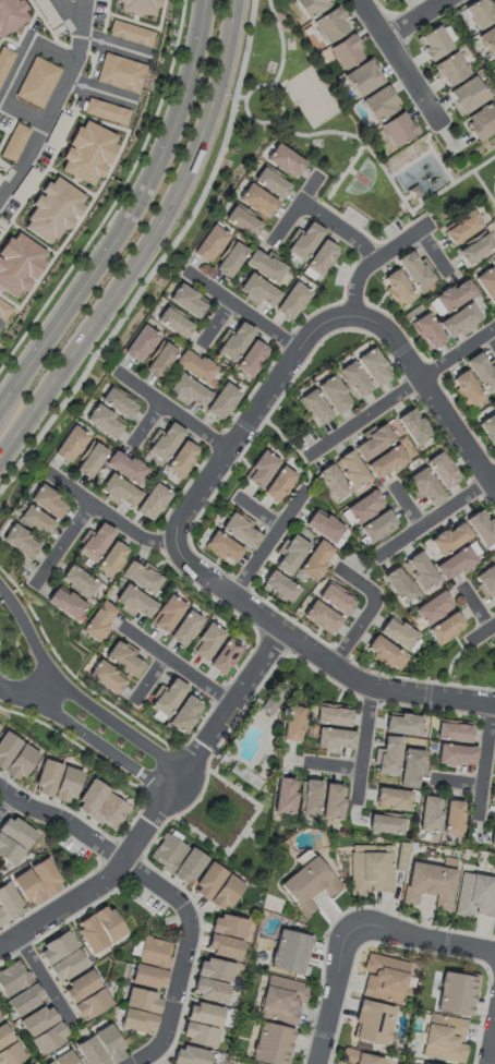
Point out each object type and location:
building: (100, 0)
building: (385, 0)
building: (388, 0)
building: (136, 4)
building: (312, 7)
parking lot: (49, 15)
road: (106, 15)
building: (478, 15)
building: (9, 16)
road: (68, 17)
road: (418, 20)
road: (147, 26)
building: (330, 26)
building: (130, 32)
building: (488, 41)
road: (13, 44)
road: (281, 44)
building: (434, 44)
road: (114, 46)
building: (347, 53)
building: (4, 59)
road: (401, 62)
building: (450, 70)
building: (121, 72)
road: (15, 73)
building: (364, 78)
building: (37, 81)
road: (98, 90)
park: (313, 94)
building: (467, 95)
road: (241, 96)
road: (53, 101)
building: (379, 105)
road: (244, 106)
building: (107, 110)
parking lot: (4, 119)
building: (481, 122)
building: (397, 130)
road: (61, 138)
road: (426, 141)
building: (14, 142)
building: (84, 152)
road: (426, 152)
building: (286, 161)
parking lot: (3, 170)
road: (345, 171)
parking lot: (32, 172)
park: (362, 178)
road: (390, 179)
building: (271, 182)
road: (70, 183)
road: (494, 184)
road: (483, 189)
building: (414, 192)
road: (413, 193)
building: (257, 201)
road: (86, 207)
road: (297, 209)
building: (51, 210)
road: (126, 215)
building: (241, 220)
building: (461, 227)
road: (339, 228)
road: (33, 239)
building: (306, 241)
building: (210, 244)
road: (149, 245)
building: (475, 251)
road: (432, 252)
building: (321, 258)
building: (229, 259)
road: (375, 259)
road: (160, 261)
park: (167, 261)
building: (17, 262)
building: (494, 263)
building: (263, 265)
building: (414, 270)
building: (488, 286)
building: (399, 289)
building: (259, 290)
building: (456, 297)
building: (185, 299)
building: (292, 301)
building: (3, 309)
road: (244, 311)
building: (173, 321)
building: (459, 322)
road: (219, 325)
building: (428, 335)
road: (492, 339)
building: (237, 341)
building: (140, 344)
building: (251, 359)
building: (161, 361)
building: (195, 366)
building: (374, 370)
building: (481, 373)
building: (353, 382)
building: (467, 389)
building: (191, 392)
road: (399, 395)
building: (335, 397)
road: (431, 397)
building: (224, 402)
building: (119, 404)
building: (316, 409)
road: (173, 414)
building: (102, 421)
road: (251, 421)
road: (147, 427)
building: (412, 428)
building: (490, 431)
building: (167, 442)
building: (70, 445)
building: (373, 446)
building: (182, 459)
building: (89, 460)
building: (384, 463)
building: (124, 467)
building: (262, 470)
building: (351, 471)
building: (440, 472)
building: (333, 484)
building: (280, 485)
building: (426, 488)
building: (121, 492)
building: (46, 499)
building: (152, 501)
road: (410, 506)
building: (362, 508)
road: (259, 511)
road: (109, 518)
road: (437, 518)
building: (35, 520)
building: (376, 527)
building: (322, 529)
building: (480, 531)
building: (241, 533)
building: (448, 540)
building: (97, 541)
building: (22, 542)
road: (63, 542)
road: (268, 542)
building: (222, 549)
building: (290, 557)
building: (112, 558)
building: (494, 560)
building: (315, 561)
building: (451, 565)
building: (493, 565)
building: (419, 572)
building: (141, 577)
building: (79, 582)
building: (396, 584)
building: (486, 584)
building: (280, 589)
building: (335, 600)
building: (136, 603)
building: (64, 604)
building: (430, 608)
road: (478, 608)
road: (369, 612)
building: (168, 615)
building: (321, 618)
building: (99, 621)
building: (185, 629)
building: (443, 629)
building: (395, 634)
road: (480, 634)
building: (207, 642)
building: (494, 646)
building: (494, 650)
building: (382, 652)
building: (224, 656)
road: (321, 657)
building: (125, 662)
road: (178, 665)
building: (106, 678)
road: (145, 679)
road: (44, 690)
road: (75, 696)
building: (169, 699)
building: (275, 699)
building: (185, 714)
building: (330, 715)
building: (290, 725)
building: (400, 725)
building: (449, 731)
road: (86, 737)
building: (334, 740)
road: (364, 742)
building: (8, 749)
building: (454, 757)
building: (385, 758)
road: (485, 760)
building: (21, 764)
road: (335, 766)
building: (407, 771)
building: (47, 779)
road: (459, 784)
building: (68, 786)
building: (282, 797)
building: (90, 798)
building: (309, 799)
road: (2, 800)
building: (391, 800)
building: (330, 802)
road: (159, 808)
building: (111, 814)
building: (428, 815)
building: (450, 819)
building: (494, 821)
road: (62, 826)
building: (383, 826)
building: (17, 834)
building: (492, 841)
building: (9, 853)
building: (166, 854)
building: (399, 857)
building: (186, 868)
building: (370, 870)
building: (46, 879)
building: (206, 881)
building: (306, 886)
building: (428, 886)
building: (27, 890)
building: (222, 893)
building: (476, 898)
building: (10, 904)
building: (2, 921)
building: (107, 923)
building: (226, 927)
building: (89, 935)
road: (430, 940)
road: (188, 942)
building: (221, 947)
building: (56, 948)
building: (289, 952)
building: (152, 954)
building: (65, 966)
building: (213, 970)
road: (41, 974)
building: (146, 978)
building: (12, 980)
building: (383, 980)
building: (80, 988)
road: (334, 989)
building: (206, 991)
building: (456, 995)
building: (140, 1001)
building: (24, 1002)
building: (280, 1002)
building: (89, 1004)
building: (202, 1015)
building: (36, 1021)
building: (136, 1021)
building: (373, 1024)
building: (196, 1035)
building: (3, 1038)
building: (47, 1039)
building: (445, 1040)
building: (108, 1043)
building: (270, 1044)
road: (492, 1044)
building: (89, 1053)
building: (10, 1055)
road: (143, 1055)
building: (188, 1056)
building: (63, 1059)
building: (358, 1059)
building: (48, 1063)
building: (421, 1063)

